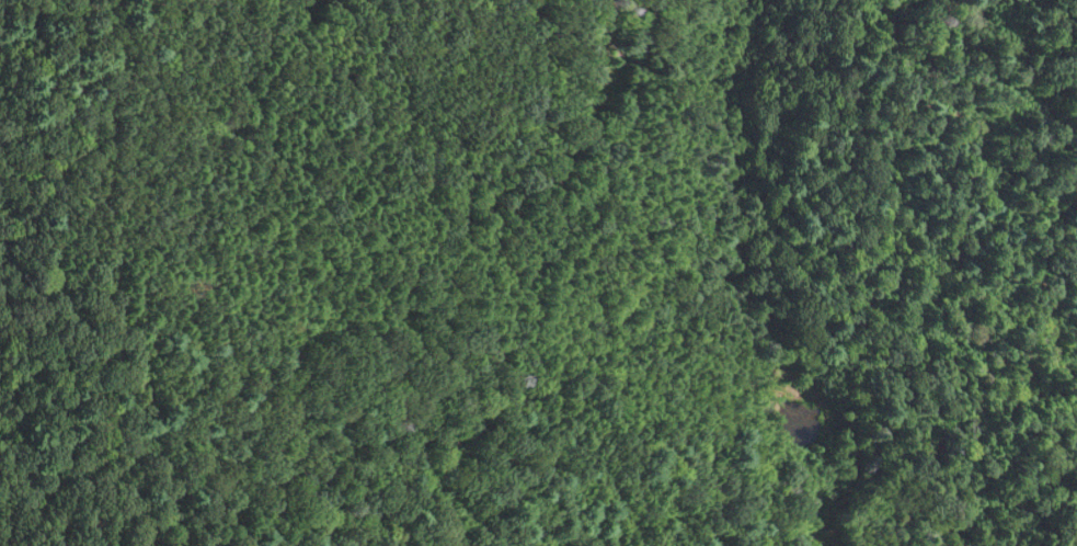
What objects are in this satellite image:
park: (595, 278)

